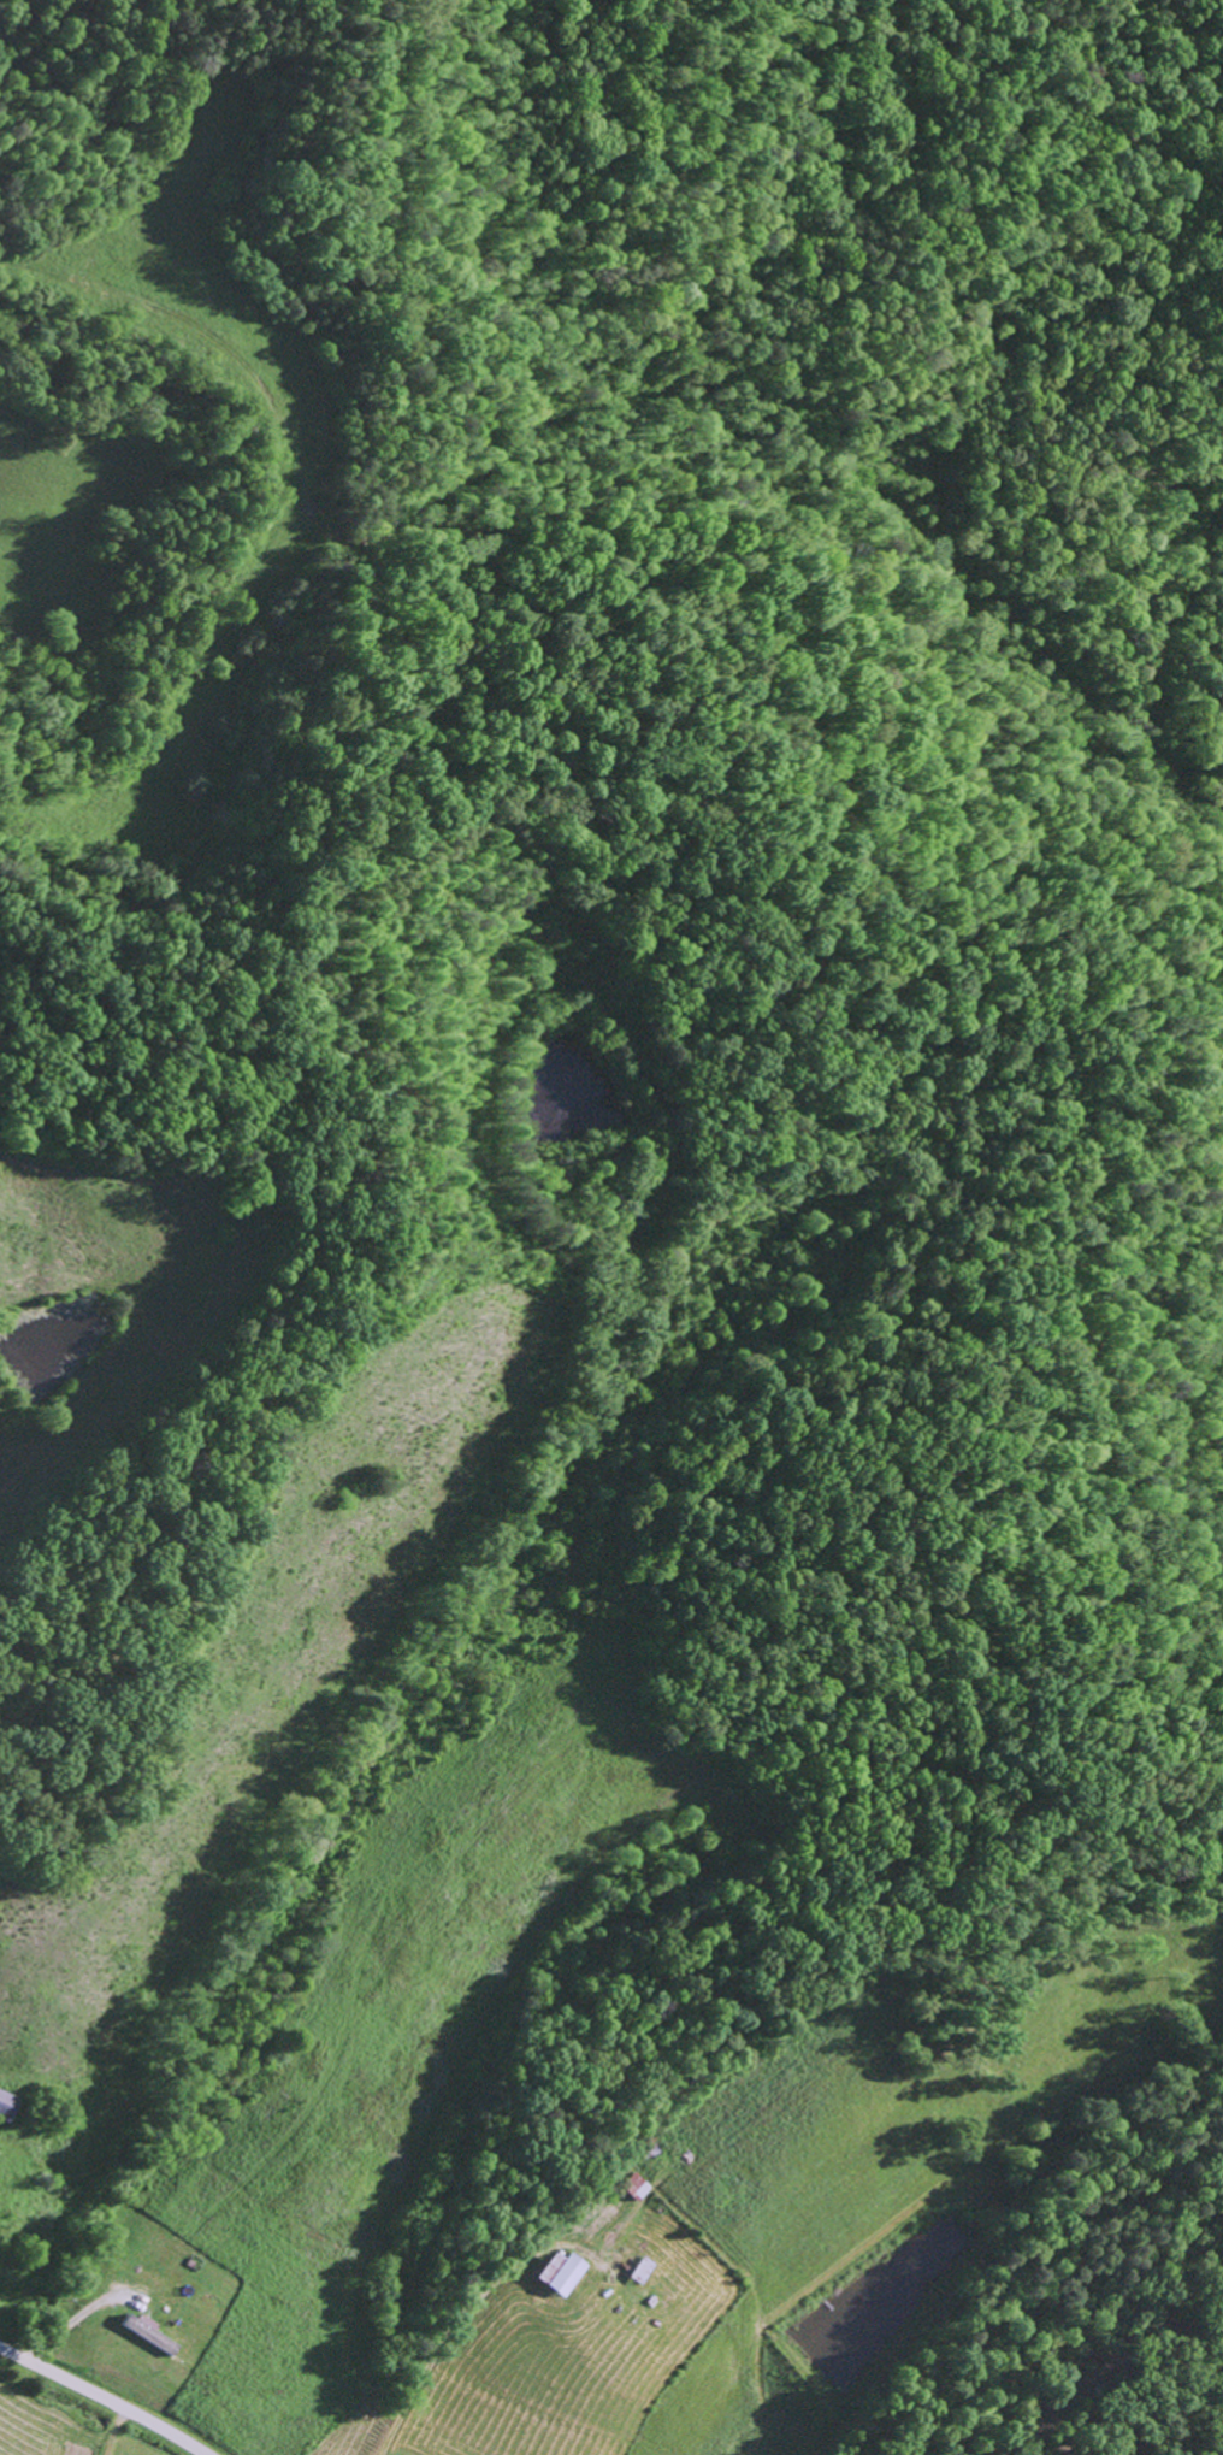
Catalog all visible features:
building: (6, 2103)
building: (636, 2185)
building: (642, 2268)
building: (561, 2271)
building: (147, 2332)
road: (105, 2397)

